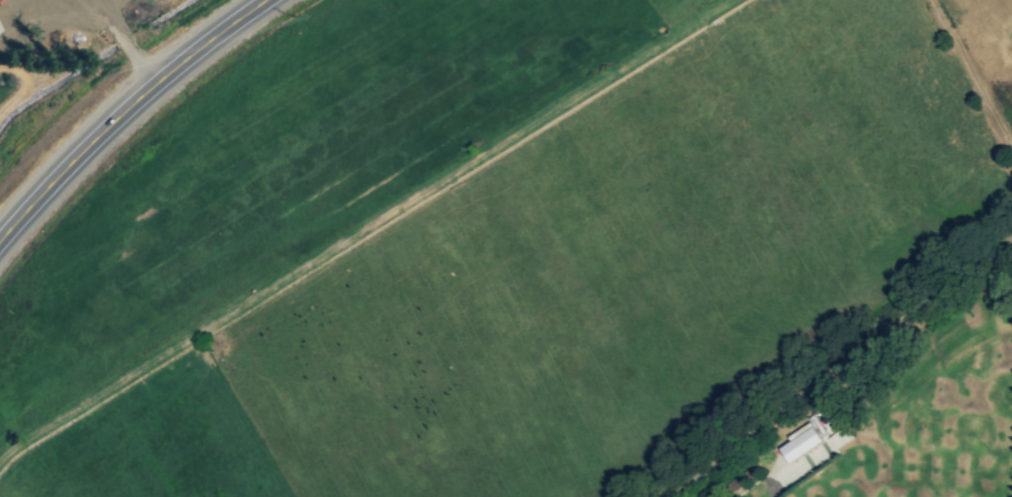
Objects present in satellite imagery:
building: (0, 31)
road: (120, 40)
road: (124, 113)
building: (806, 446)

